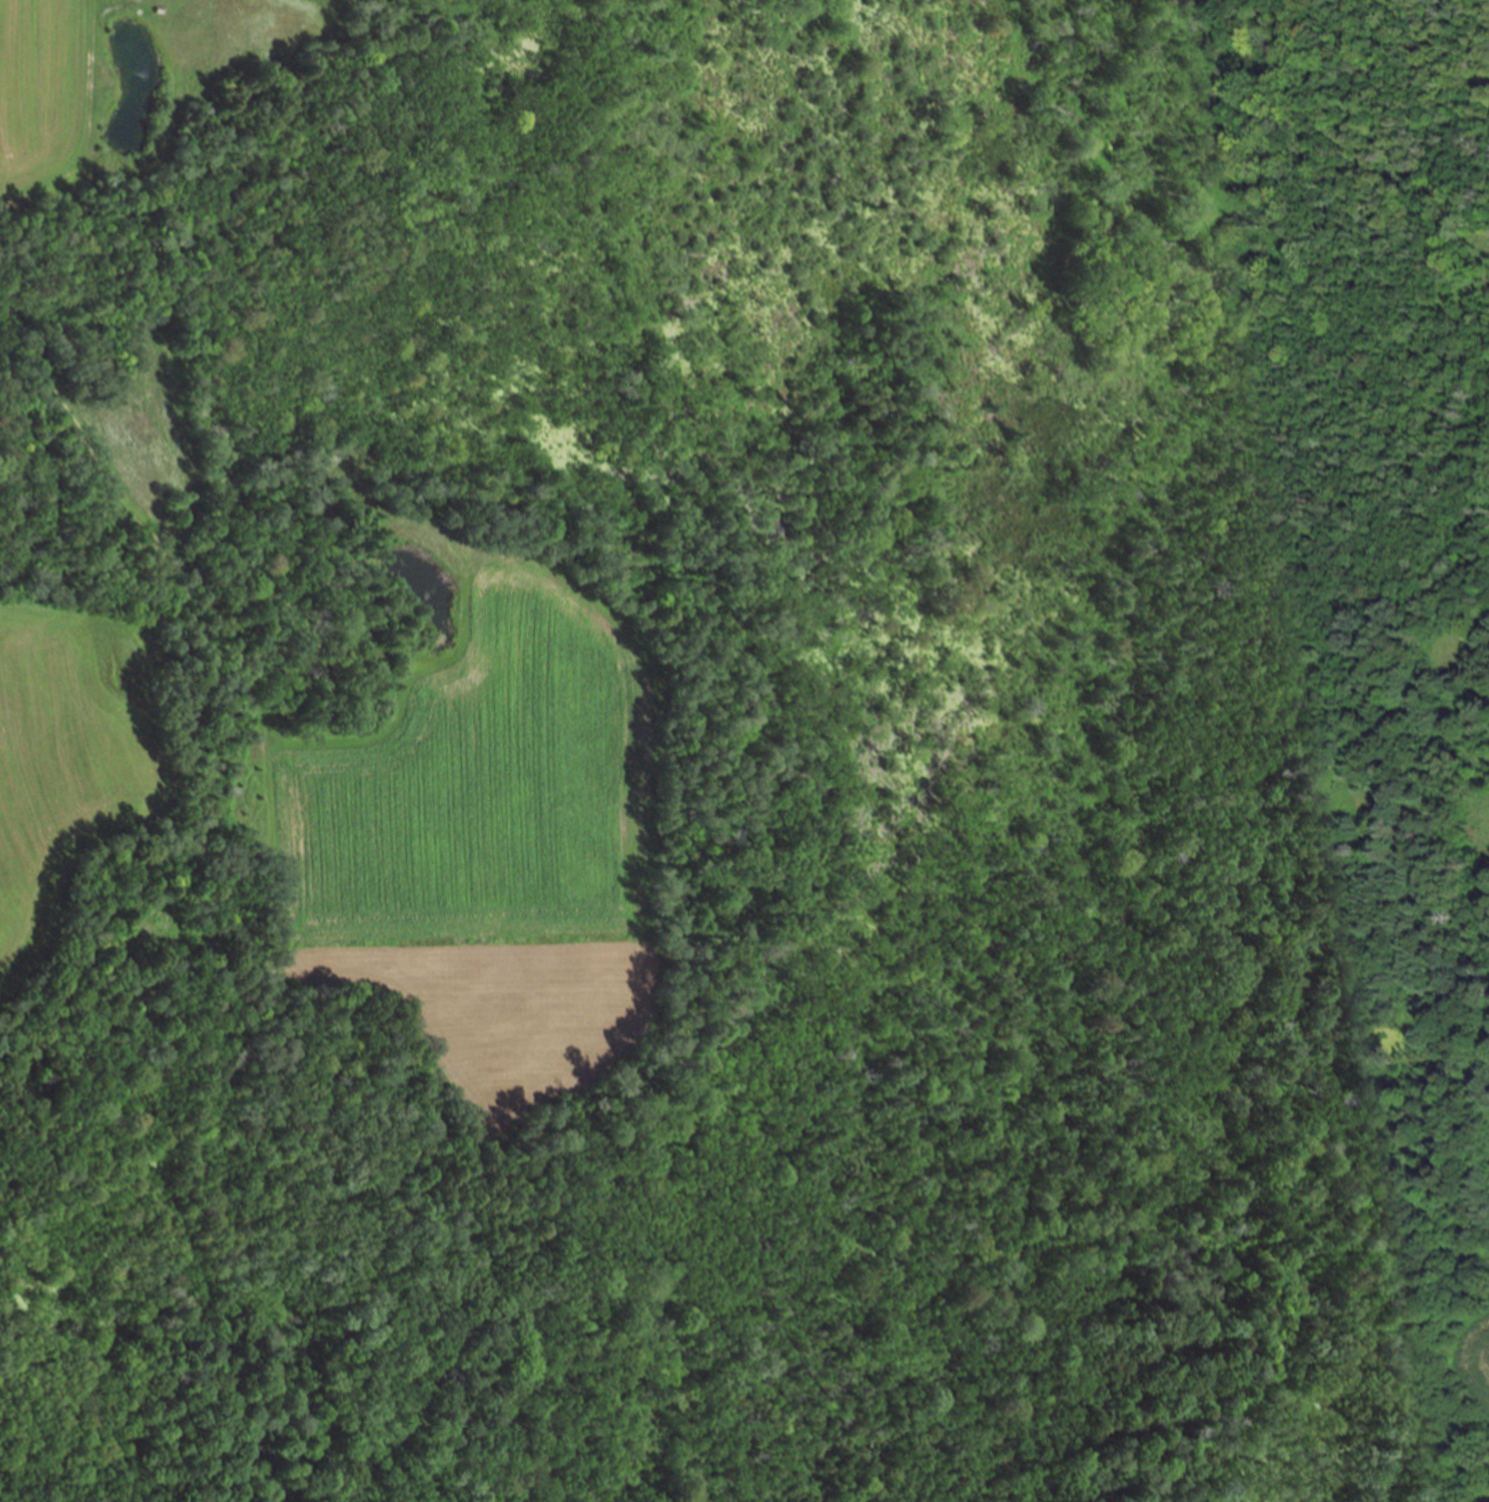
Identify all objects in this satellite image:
road: (1476, 637)

